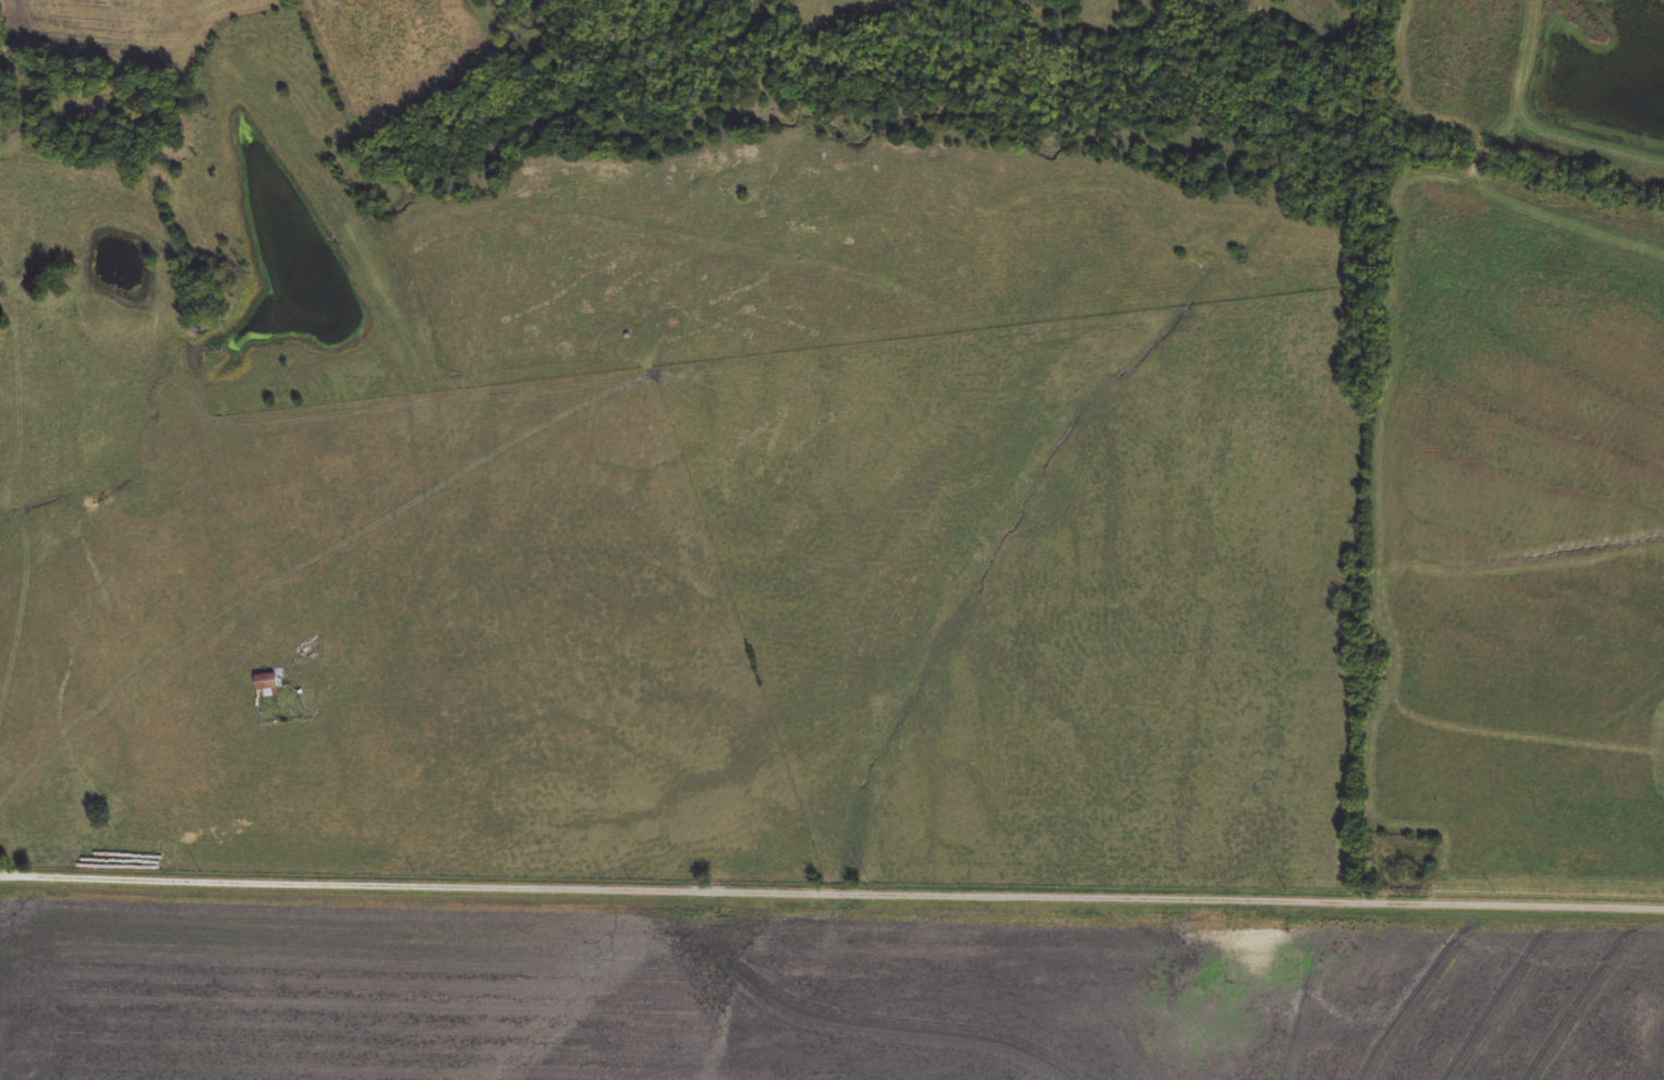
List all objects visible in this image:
building: (267, 687)
road: (831, 895)

